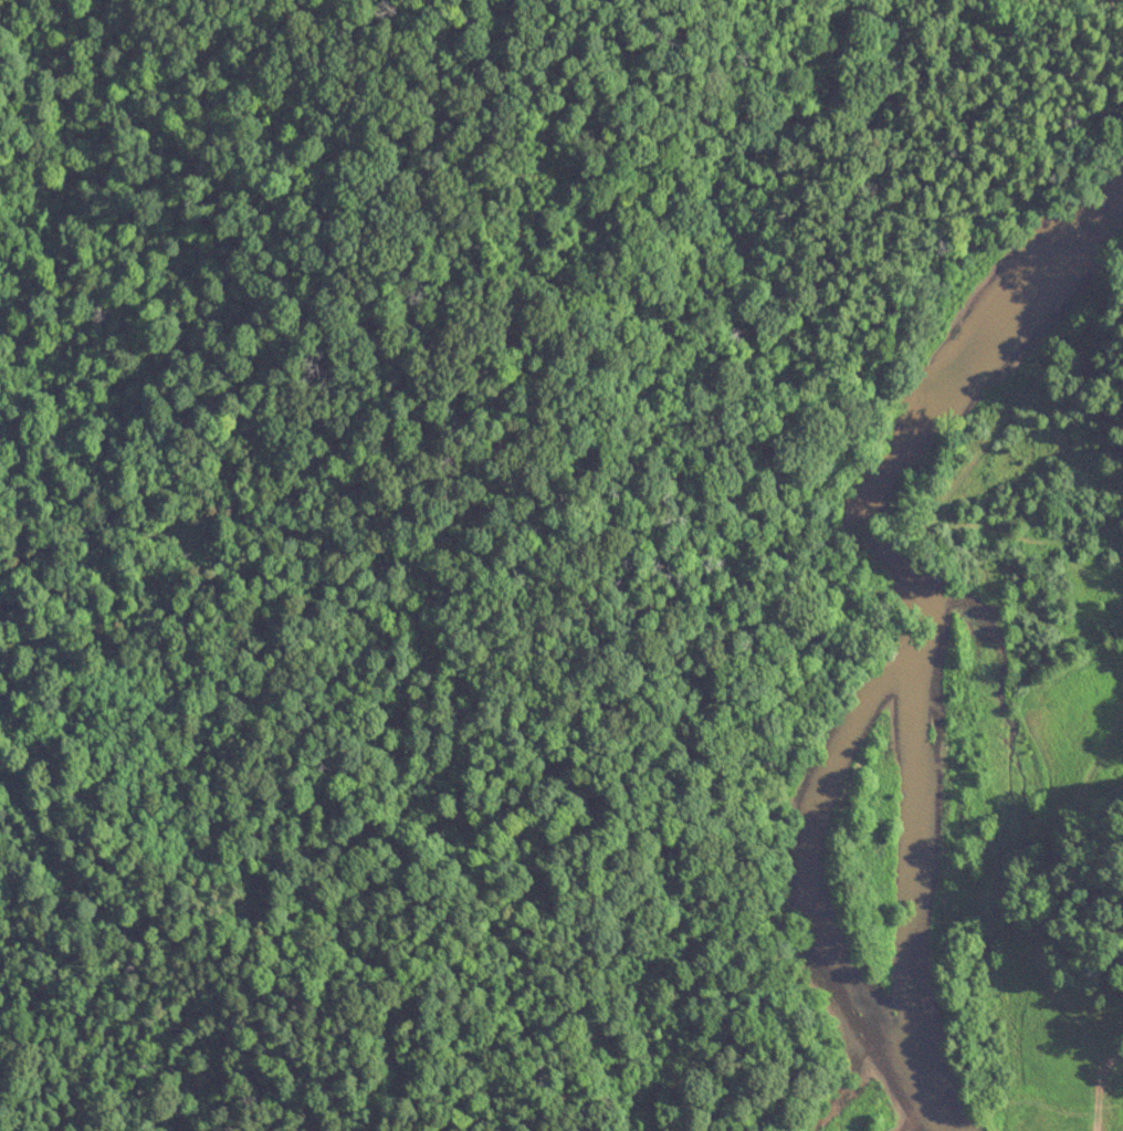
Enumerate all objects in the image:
river: (904, 620)
river: (810, 892)

